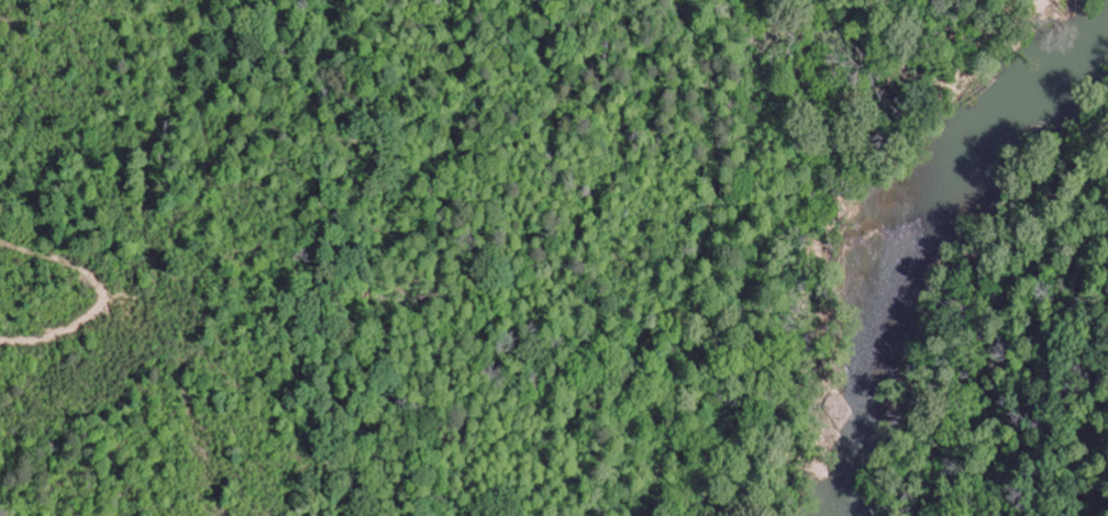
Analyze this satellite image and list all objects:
river: (918, 246)

